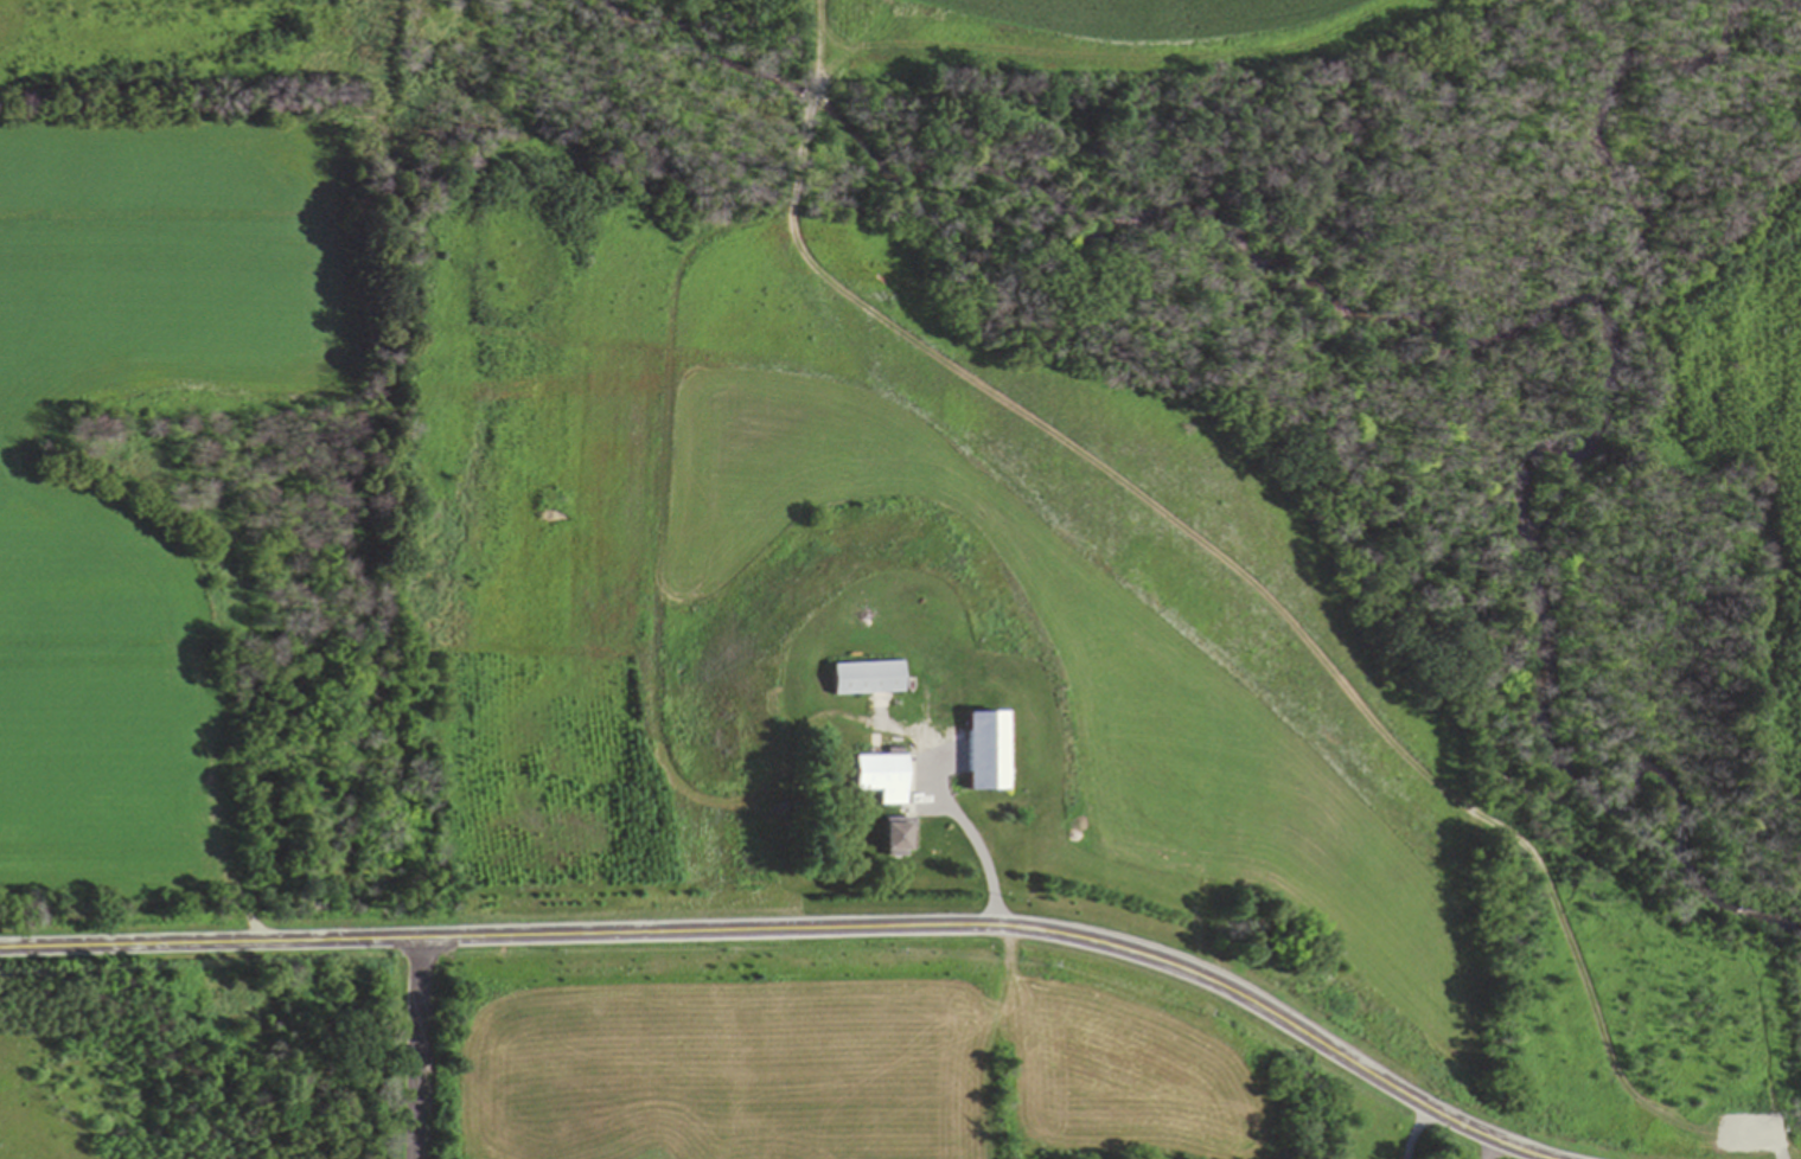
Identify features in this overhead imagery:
building: (863, 678)
building: (979, 760)
building: (880, 777)
building: (894, 840)
road: (803, 928)
road: (415, 1048)

